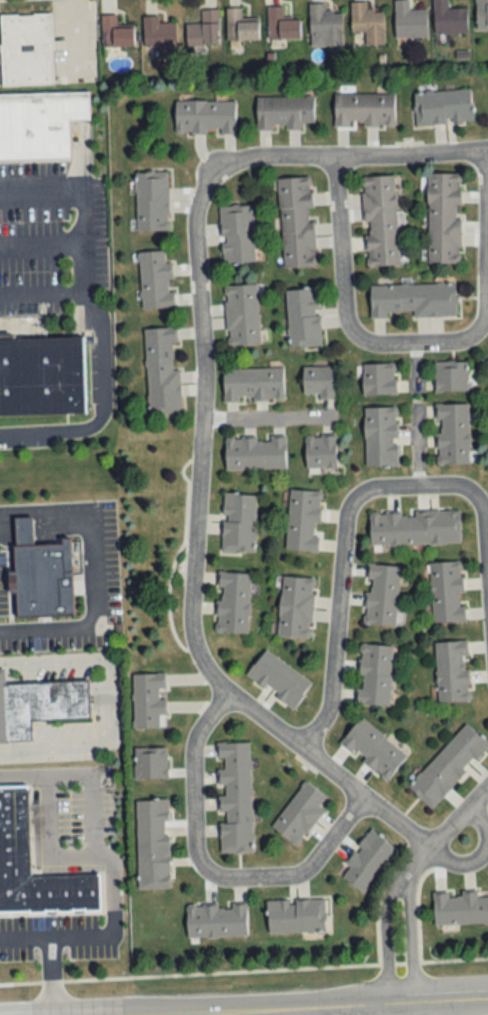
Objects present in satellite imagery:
building: (481, 14)
building: (449, 19)
building: (409, 21)
building: (367, 23)
building: (282, 25)
building: (324, 26)
building: (240, 27)
building: (204, 29)
building: (116, 34)
building: (160, 37)
building: (26, 50)
building: (443, 108)
building: (364, 110)
building: (283, 112)
building: (205, 117)
building: (39, 122)
road: (41, 183)
building: (152, 201)
building: (444, 218)
building: (380, 221)
building: (297, 223)
building: (237, 235)
road: (43, 243)
building: (156, 281)
road: (44, 294)
building: (414, 300)
road: (96, 310)
building: (242, 315)
building: (304, 318)
road: (198, 340)
road: (416, 345)
road: (416, 363)
building: (162, 371)
building: (41, 373)
building: (451, 375)
building: (379, 378)
building: (318, 382)
building: (253, 384)
road: (260, 415)
road: (39, 430)
building: (453, 433)
building: (381, 436)
road: (419, 449)
building: (321, 451)
building: (255, 453)
road: (364, 496)
building: (303, 519)
building: (238, 521)
building: (415, 527)
road: (91, 566)
building: (43, 580)
building: (447, 591)
building: (381, 595)
building: (232, 602)
building: (296, 606)
building: (452, 670)
building: (374, 674)
building: (278, 678)
road: (113, 698)
building: (148, 699)
building: (38, 705)
building: (373, 748)
building: (150, 762)
building: (449, 765)
building: (234, 796)
road: (360, 799)
building: (299, 813)
building: (14, 829)
road: (444, 832)
road: (96, 840)
road: (50, 841)
building: (152, 843)
road: (477, 854)
building: (366, 860)
road: (204, 875)
road: (400, 884)
building: (460, 908)
building: (296, 916)
building: (216, 920)
road: (26, 934)
road: (53, 974)
road: (335, 1007)
road: (410, 1009)
road: (394, 1010)

